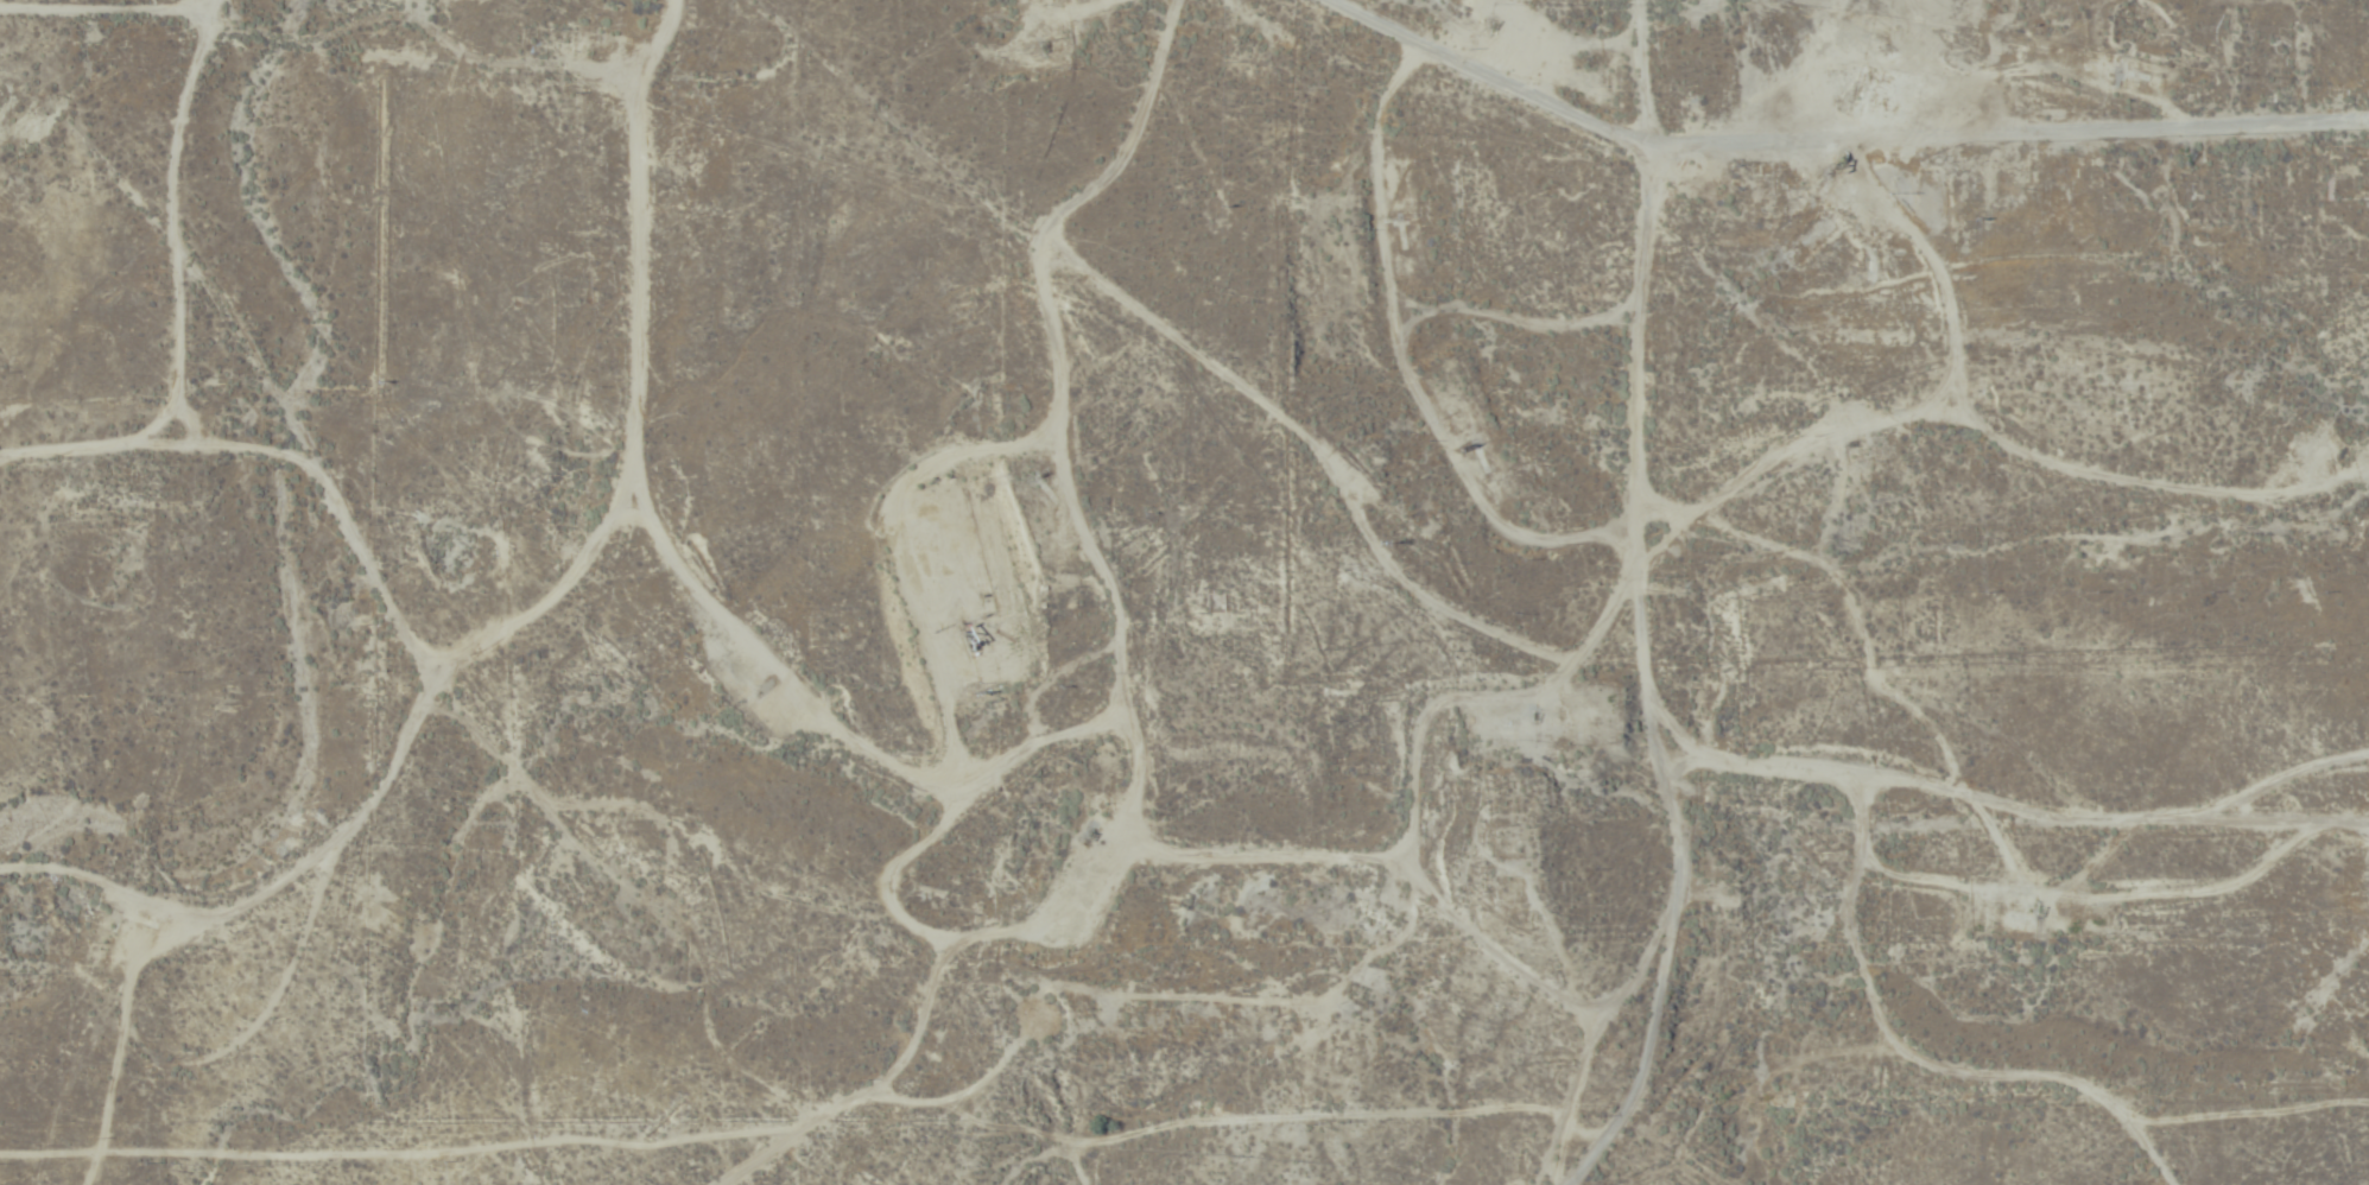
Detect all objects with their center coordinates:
road: (1810, 144)
road: (1633, 467)
road: (638, 469)

